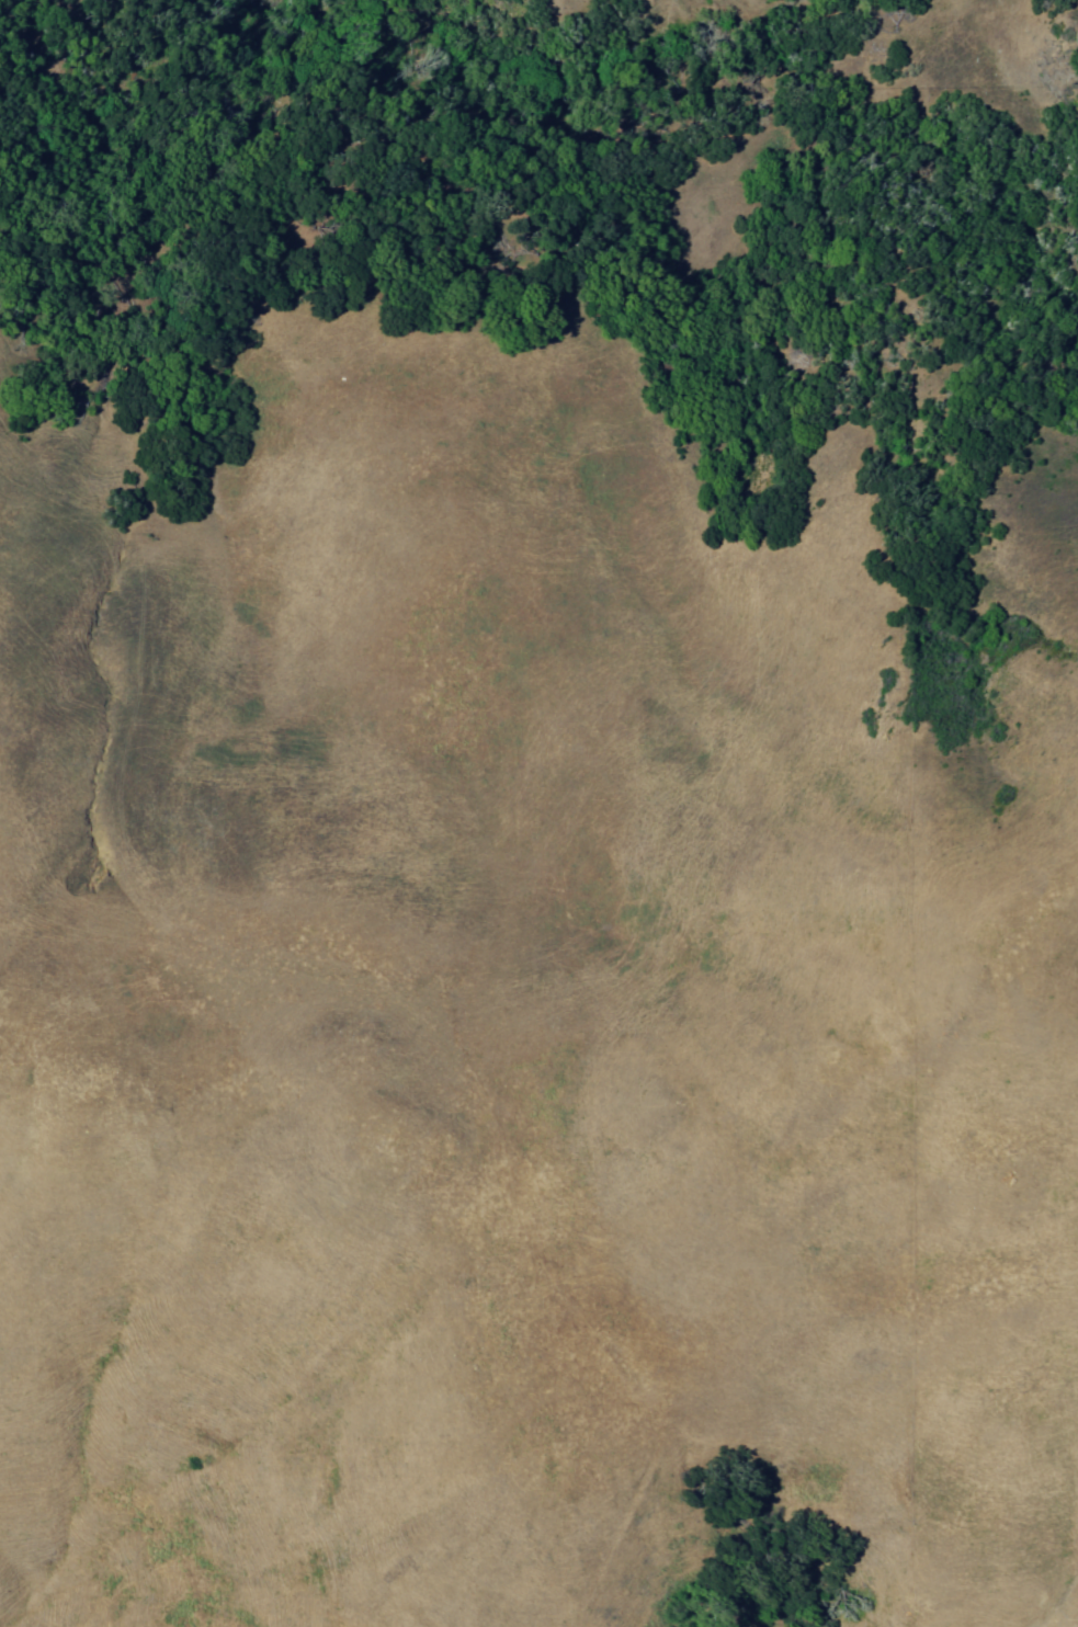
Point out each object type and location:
road: (769, 1445)

